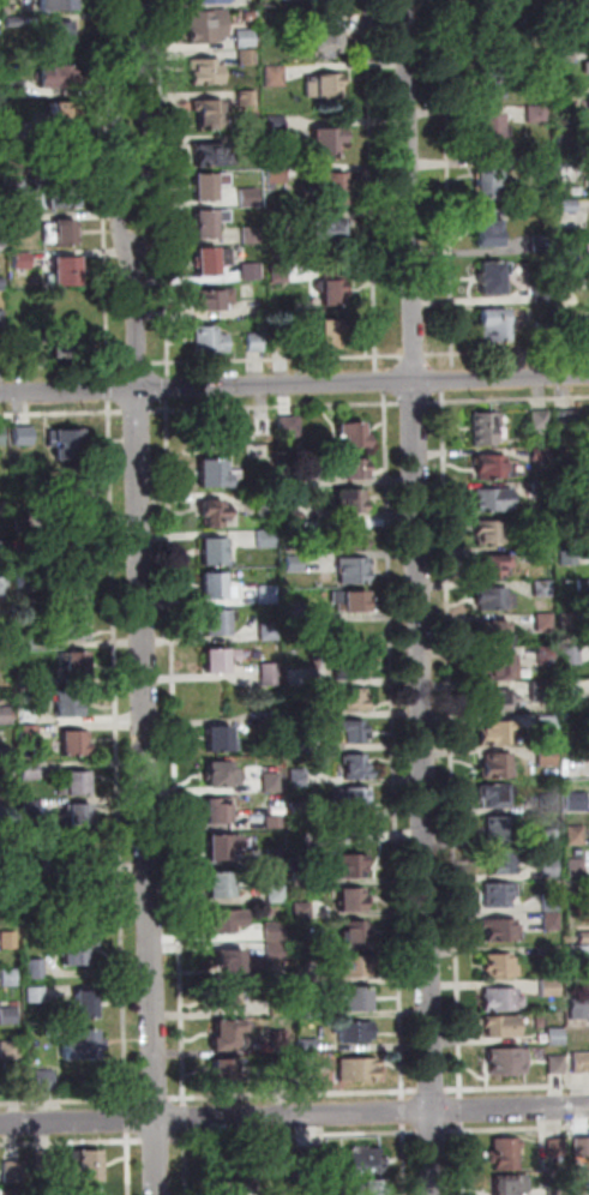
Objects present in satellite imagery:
building: (318, 0)
building: (588, 0)
building: (210, 1)
building: (59, 5)
building: (8, 11)
road: (133, 12)
building: (251, 17)
building: (569, 17)
building: (17, 23)
building: (209, 26)
building: (62, 35)
building: (329, 36)
building: (247, 40)
building: (499, 43)
building: (566, 56)
building: (248, 58)
building: (587, 68)
building: (206, 72)
building: (276, 76)
building: (61, 77)
building: (493, 83)
building: (327, 88)
building: (18, 89)
building: (567, 96)
building: (248, 98)
building: (588, 98)
building: (67, 114)
building: (539, 114)
building: (211, 115)
building: (277, 124)
building: (489, 126)
building: (18, 132)
road: (119, 133)
road: (148, 134)
building: (567, 134)
building: (327, 142)
building: (253, 143)
building: (0, 151)
building: (66, 155)
building: (209, 156)
building: (18, 163)
building: (541, 163)
building: (277, 173)
building: (491, 182)
road: (373, 185)
road: (450, 185)
building: (587, 185)
building: (18, 187)
road: (166, 187)
building: (209, 187)
road: (104, 188)
building: (335, 188)
building: (62, 198)
building: (250, 198)
building: (570, 206)
building: (20, 221)
building: (278, 223)
building: (210, 224)
building: (489, 230)
building: (62, 234)
building: (325, 234)
building: (252, 235)
building: (2, 245)
building: (542, 245)
building: (588, 247)
building: (23, 262)
building: (212, 262)
building: (571, 266)
building: (68, 272)
building: (252, 272)
building: (281, 274)
building: (495, 280)
building: (572, 283)
building: (2, 286)
building: (332, 290)
building: (545, 295)
building: (216, 300)
building: (2, 320)
building: (495, 326)
building: (571, 331)
building: (547, 332)
building: (332, 335)
building: (211, 342)
building: (256, 342)
building: (67, 343)
building: (281, 343)
building: (2, 352)
building: (25, 352)
road: (507, 352)
road: (415, 356)
road: (277, 359)
road: (138, 364)
road: (62, 366)
road: (380, 380)
road: (450, 380)
road: (365, 382)
road: (169, 385)
road: (110, 389)
road: (70, 390)
road: (509, 401)
road: (415, 403)
road: (277, 407)
road: (139, 412)
road: (62, 414)
building: (569, 420)
building: (541, 421)
building: (260, 422)
building: (292, 428)
building: (486, 430)
building: (2, 437)
building: (24, 437)
building: (354, 437)
building: (68, 445)
building: (542, 455)
building: (569, 457)
building: (492, 468)
building: (351, 469)
building: (293, 472)
building: (215, 476)
building: (541, 490)
building: (73, 502)
building: (355, 502)
building: (495, 502)
building: (4, 510)
building: (268, 510)
building: (217, 515)
building: (295, 517)
building: (543, 520)
building: (24, 523)
building: (296, 529)
building: (491, 534)
building: (266, 540)
building: (353, 540)
building: (4, 551)
building: (216, 552)
building: (543, 557)
building: (571, 557)
building: (295, 564)
building: (493, 568)
building: (355, 572)
building: (28, 580)
building: (4, 586)
building: (584, 586)
building: (217, 588)
building: (543, 588)
building: (78, 594)
building: (269, 595)
road: (420, 597)
building: (494, 600)
building: (351, 601)
building: (296, 611)
building: (570, 621)
building: (220, 623)
building: (546, 623)
building: (77, 630)
building: (270, 631)
building: (498, 635)
building: (29, 641)
building: (548, 656)
building: (571, 656)
building: (222, 661)
building: (5, 666)
building: (76, 666)
building: (500, 666)
building: (350, 668)
building: (271, 674)
building: (297, 677)
building: (29, 679)
building: (571, 689)
building: (543, 692)
building: (498, 699)
building: (353, 702)
building: (70, 705)
road: (148, 715)
building: (5, 716)
building: (29, 716)
building: (272, 725)
building: (548, 725)
building: (30, 733)
building: (354, 733)
building: (498, 734)
building: (221, 740)
building: (299, 743)
building: (76, 744)
road: (395, 744)
road: (452, 744)
road: (176, 752)
building: (6, 755)
road: (118, 755)
building: (548, 757)
building: (497, 767)
building: (359, 769)
building: (31, 771)
building: (223, 777)
building: (299, 779)
building: (272, 783)
building: (76, 786)
building: (6, 789)
building: (497, 797)
building: (356, 800)
building: (549, 803)
building: (575, 804)
building: (32, 809)
building: (302, 811)
building: (218, 813)
building: (77, 817)
building: (275, 823)
building: (504, 828)
building: (577, 836)
building: (552, 837)
building: (7, 846)
building: (224, 847)
building: (77, 852)
building: (276, 858)
building: (504, 863)
building: (32, 866)
building: (353, 866)
building: (577, 866)
building: (551, 869)
building: (302, 878)
building: (11, 882)
building: (221, 885)
building: (277, 895)
building: (500, 895)
building: (353, 901)
building: (583, 902)
building: (552, 903)
building: (302, 911)
building: (228, 921)
building: (553, 923)
building: (501, 931)
building: (276, 932)
building: (355, 933)
building: (584, 938)
building: (8, 941)
building: (303, 944)
building: (78, 949)
building: (276, 953)
building: (582, 955)
building: (553, 956)
building: (235, 962)
building: (355, 967)
building: (501, 967)
building: (36, 968)
building: (10, 978)
building: (551, 989)
building: (36, 995)
building: (227, 997)
building: (359, 998)
building: (503, 1001)
building: (86, 1005)
building: (280, 1008)
building: (579, 1010)
building: (306, 1011)
building: (10, 1017)
building: (504, 1028)
building: (357, 1033)
building: (229, 1038)
building: (281, 1039)
building: (557, 1039)
building: (307, 1045)
building: (84, 1047)
building: (11, 1052)
building: (307, 1063)
building: (509, 1063)
building: (581, 1064)
building: (282, 1067)
building: (557, 1067)
building: (226, 1071)
building: (359, 1071)
building: (12, 1073)
building: (44, 1082)
road: (517, 1087)
road: (432, 1091)
road: (294, 1095)
road: (156, 1100)
road: (71, 1103)
road: (461, 1110)
road: (404, 1111)
road: (294, 1116)
road: (185, 1118)
road: (128, 1121)
road: (518, 1129)
road: (433, 1131)
road: (295, 1137)
road: (157, 1141)
road: (71, 1142)
building: (557, 1148)
building: (582, 1148)
building: (506, 1154)
building: (311, 1157)
road: (463, 1158)
road: (404, 1159)
building: (44, 1161)
road: (130, 1163)
road: (187, 1163)
building: (366, 1163)
building: (88, 1165)
building: (13, 1173)
building: (583, 1181)
building: (511, 1185)
building: (374, 1187)
building: (229, 1190)
building: (558, 1191)
building: (12, 1193)
building: (89, 1193)

